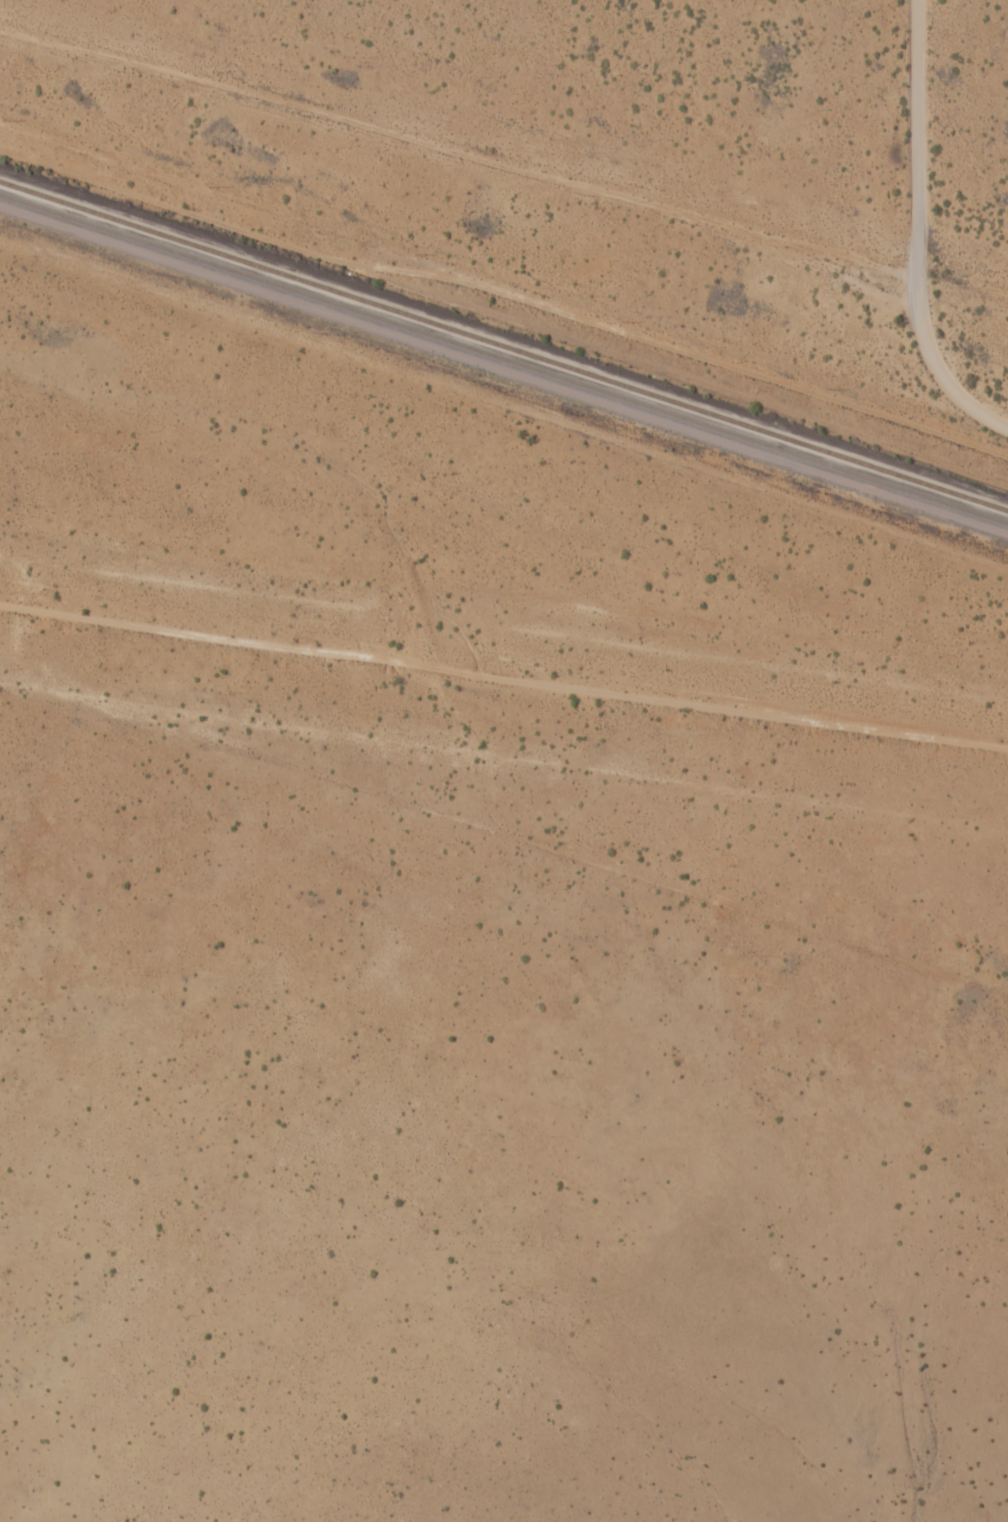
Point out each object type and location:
road: (913, 221)
road: (503, 289)
railway: (503, 347)
railway: (503, 359)
road: (997, 425)
road: (504, 471)
road: (504, 704)

